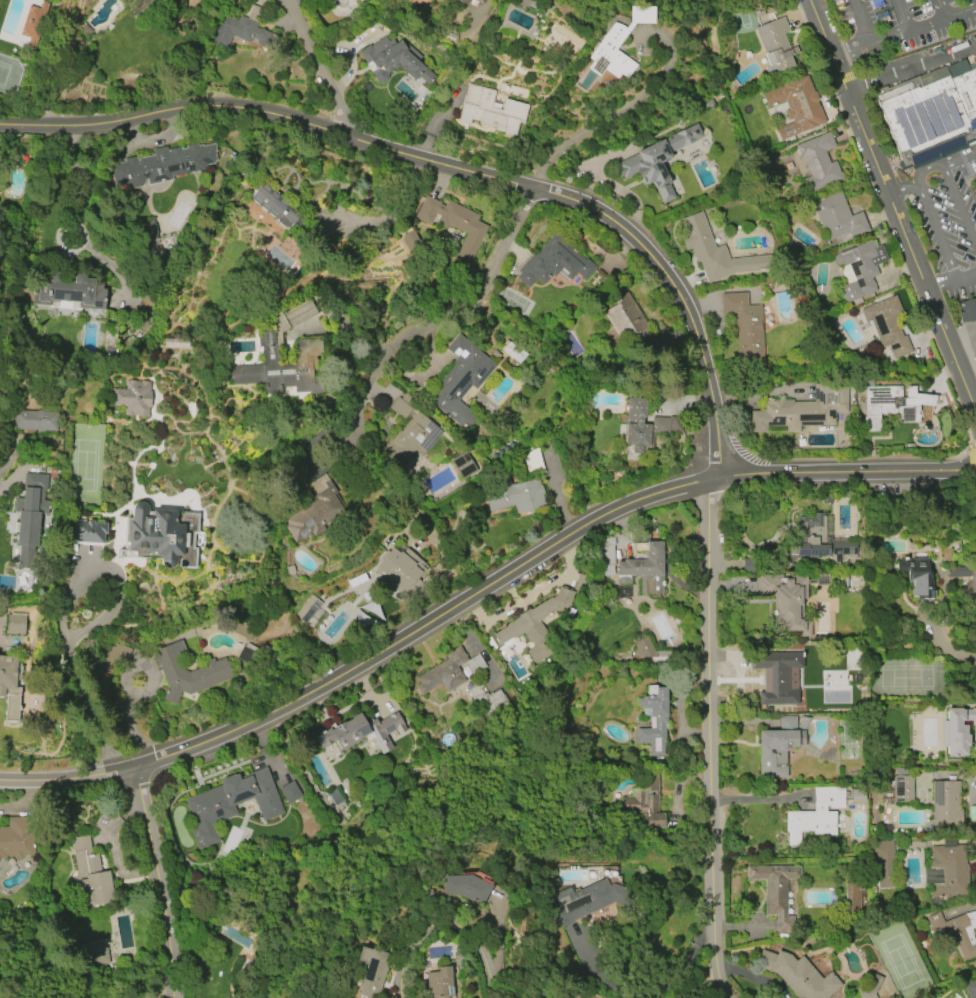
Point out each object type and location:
building: (155, 0)
building: (460, 2)
building: (476, 2)
building: (138, 5)
road: (940, 8)
road: (860, 21)
parking lot: (902, 21)
road: (925, 22)
building: (34, 24)
building: (239, 30)
road: (887, 36)
building: (617, 44)
building: (775, 45)
road: (849, 49)
building: (394, 60)
road: (911, 65)
road: (316, 67)
building: (795, 106)
road: (627, 108)
building: (489, 110)
road: (268, 112)
building: (928, 117)
road: (640, 137)
building: (657, 160)
building: (818, 162)
building: (162, 164)
road: (421, 165)
road: (924, 165)
road: (943, 170)
road: (535, 182)
building: (275, 205)
road: (890, 205)
road: (961, 216)
building: (837, 217)
road: (385, 221)
road: (81, 223)
building: (454, 223)
road: (936, 228)
parking lot: (947, 232)
building: (152, 234)
building: (715, 251)
building: (553, 262)
building: (859, 270)
road: (965, 271)
road: (940, 280)
building: (69, 290)
road: (678, 292)
road: (470, 301)
building: (966, 309)
building: (628, 320)
building: (745, 325)
building: (887, 325)
gas station: (964, 329)
road: (964, 344)
building: (310, 346)
building: (460, 381)
building: (287, 391)
building: (133, 397)
building: (892, 404)
building: (401, 408)
building: (802, 409)
building: (35, 420)
building: (641, 423)
road: (352, 432)
building: (411, 439)
building: (532, 460)
building: (463, 465)
road: (555, 493)
building: (513, 495)
building: (315, 510)
building: (30, 513)
building: (87, 532)
building: (161, 535)
building: (822, 539)
building: (399, 567)
building: (643, 570)
building: (963, 574)
building: (916, 575)
road: (478, 589)
building: (792, 598)
building: (308, 607)
building: (14, 623)
road: (92, 626)
building: (531, 626)
building: (242, 632)
road: (948, 649)
building: (115, 654)
building: (188, 671)
building: (447, 672)
building: (777, 676)
building: (10, 687)
building: (488, 701)
building: (654, 722)
building: (958, 730)
building: (363, 731)
road: (710, 740)
building: (777, 747)
building: (902, 789)
building: (290, 792)
road: (757, 798)
building: (645, 801)
building: (231, 804)
building: (945, 804)
building: (818, 814)
road: (148, 829)
building: (17, 837)
building: (882, 861)
building: (946, 871)
building: (88, 876)
building: (466, 888)
building: (775, 891)
building: (852, 895)
building: (584, 900)
road: (449, 927)
building: (957, 931)
building: (97, 954)
road: (686, 965)
building: (372, 970)
road: (606, 971)
building: (797, 975)
building: (440, 983)
road: (704, 985)
building: (869, 987)
building: (970, 989)

